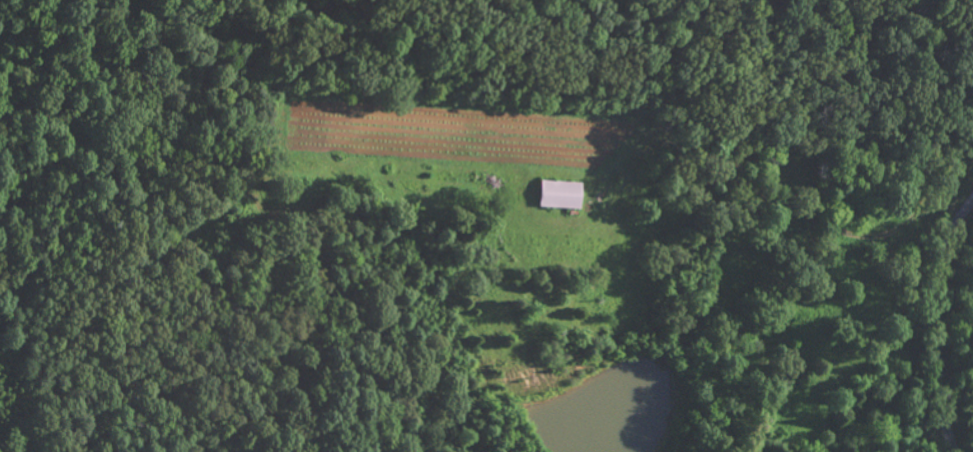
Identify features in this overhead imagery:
building: (557, 193)
road: (938, 327)

